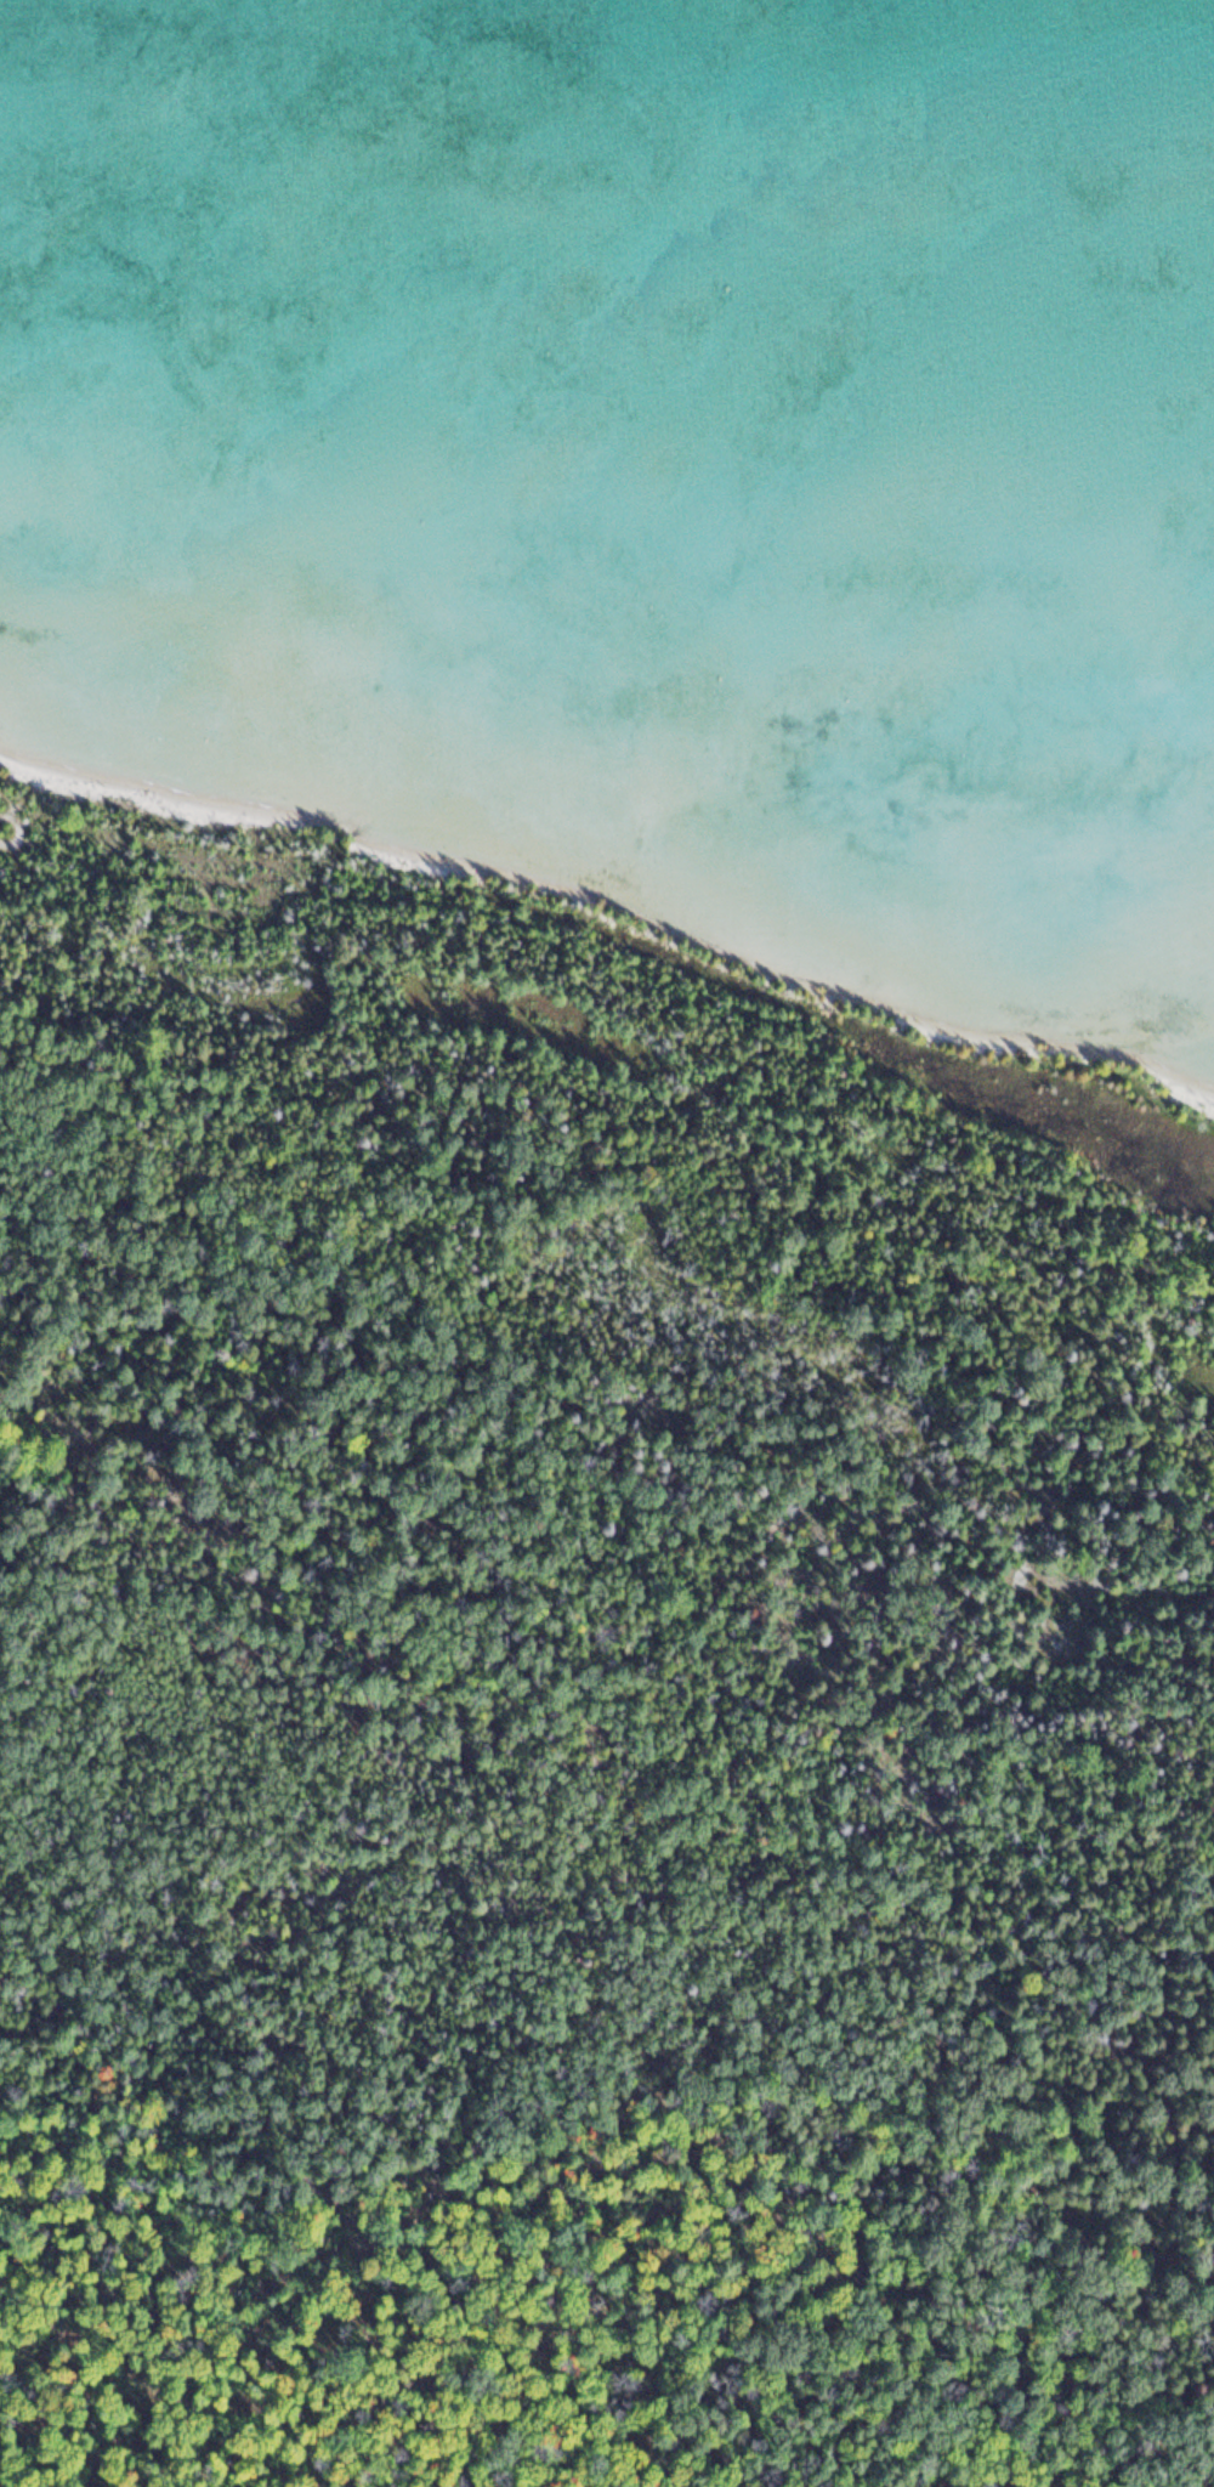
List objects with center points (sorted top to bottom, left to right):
road: (924, 1900)

